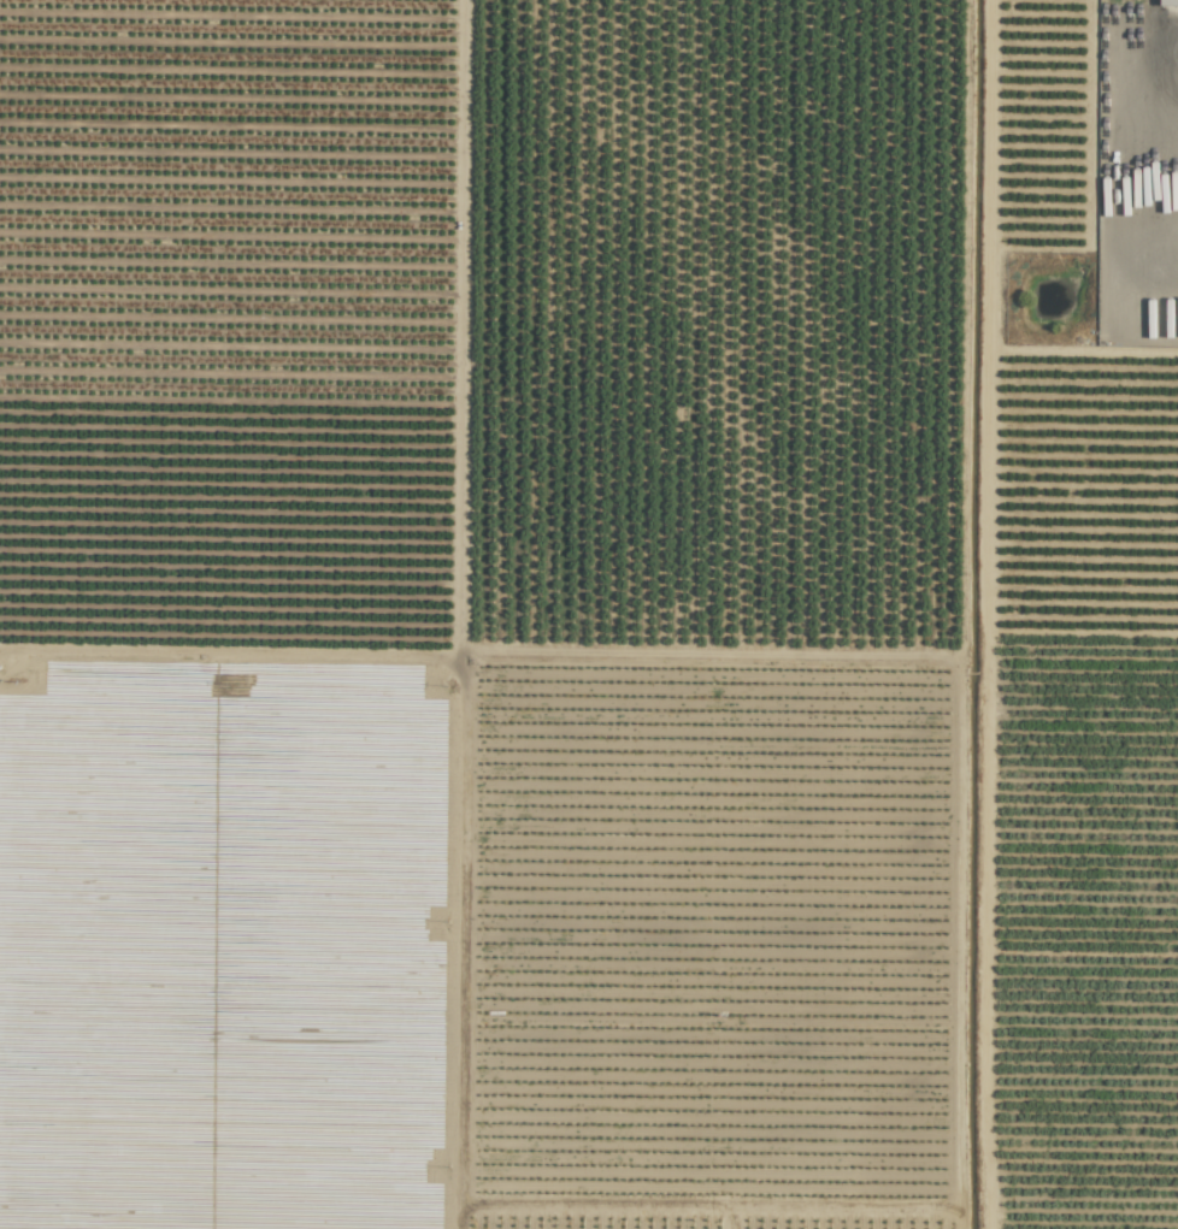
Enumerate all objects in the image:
building: (1168, 2)

